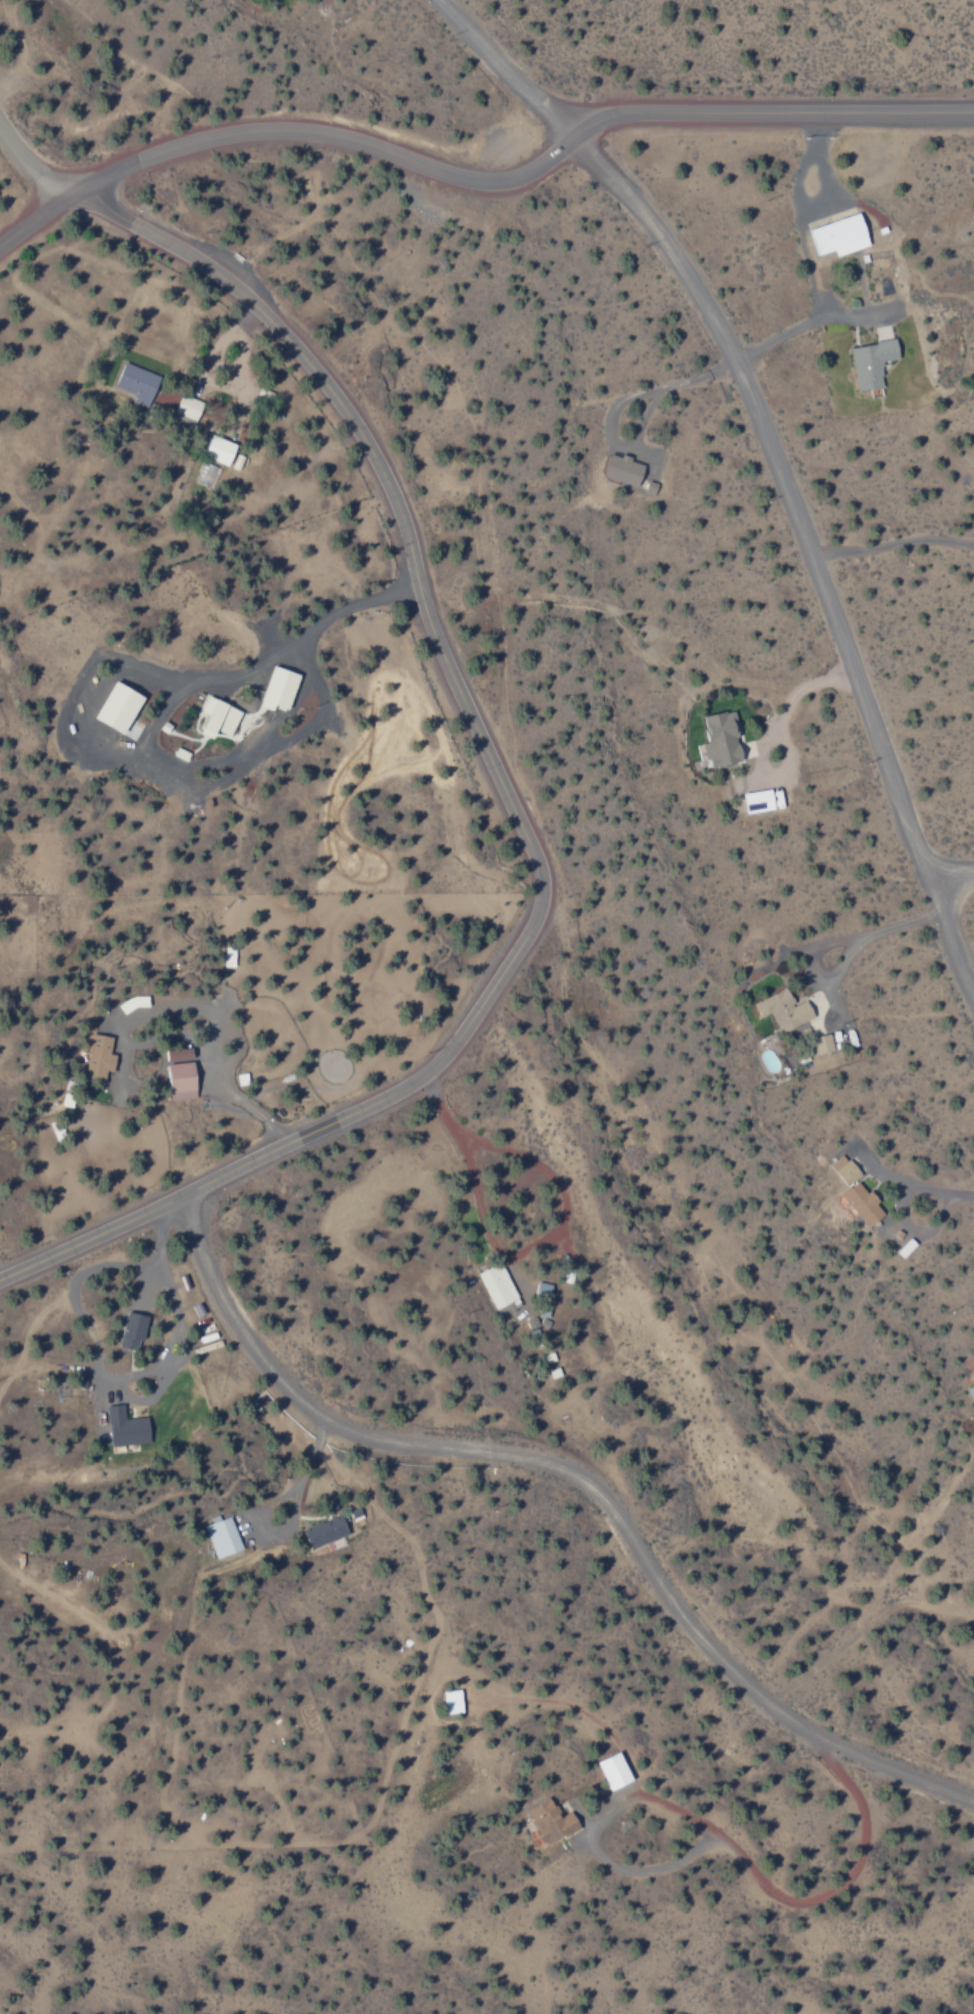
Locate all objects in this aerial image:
road: (771, 114)
road: (284, 131)
building: (840, 235)
building: (872, 362)
building: (137, 383)
road: (748, 399)
building: (218, 450)
road: (361, 451)
building: (623, 471)
building: (207, 475)
building: (651, 488)
building: (278, 689)
building: (117, 707)
building: (218, 718)
building: (720, 740)
building: (758, 801)
road: (953, 879)
road: (951, 937)
building: (229, 957)
building: (784, 1010)
building: (822, 1044)
building: (178, 1054)
building: (99, 1058)
building: (181, 1082)
road: (301, 1135)
building: (856, 1191)
building: (498, 1285)
building: (132, 1331)
building: (972, 1378)
building: (971, 1393)
building: (126, 1427)
road: (571, 1469)
building: (325, 1532)
building: (223, 1537)
building: (452, 1702)
building: (614, 1771)
building: (551, 1821)

